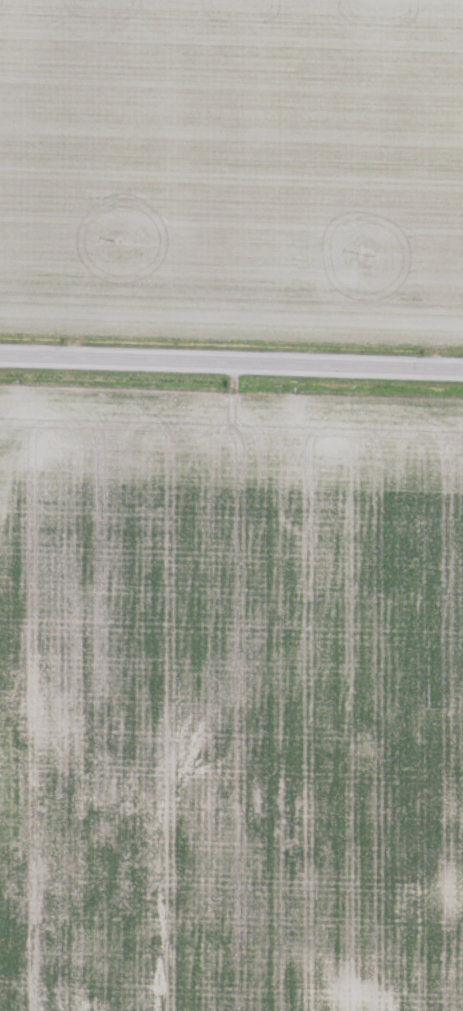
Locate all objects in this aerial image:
road: (231, 366)

